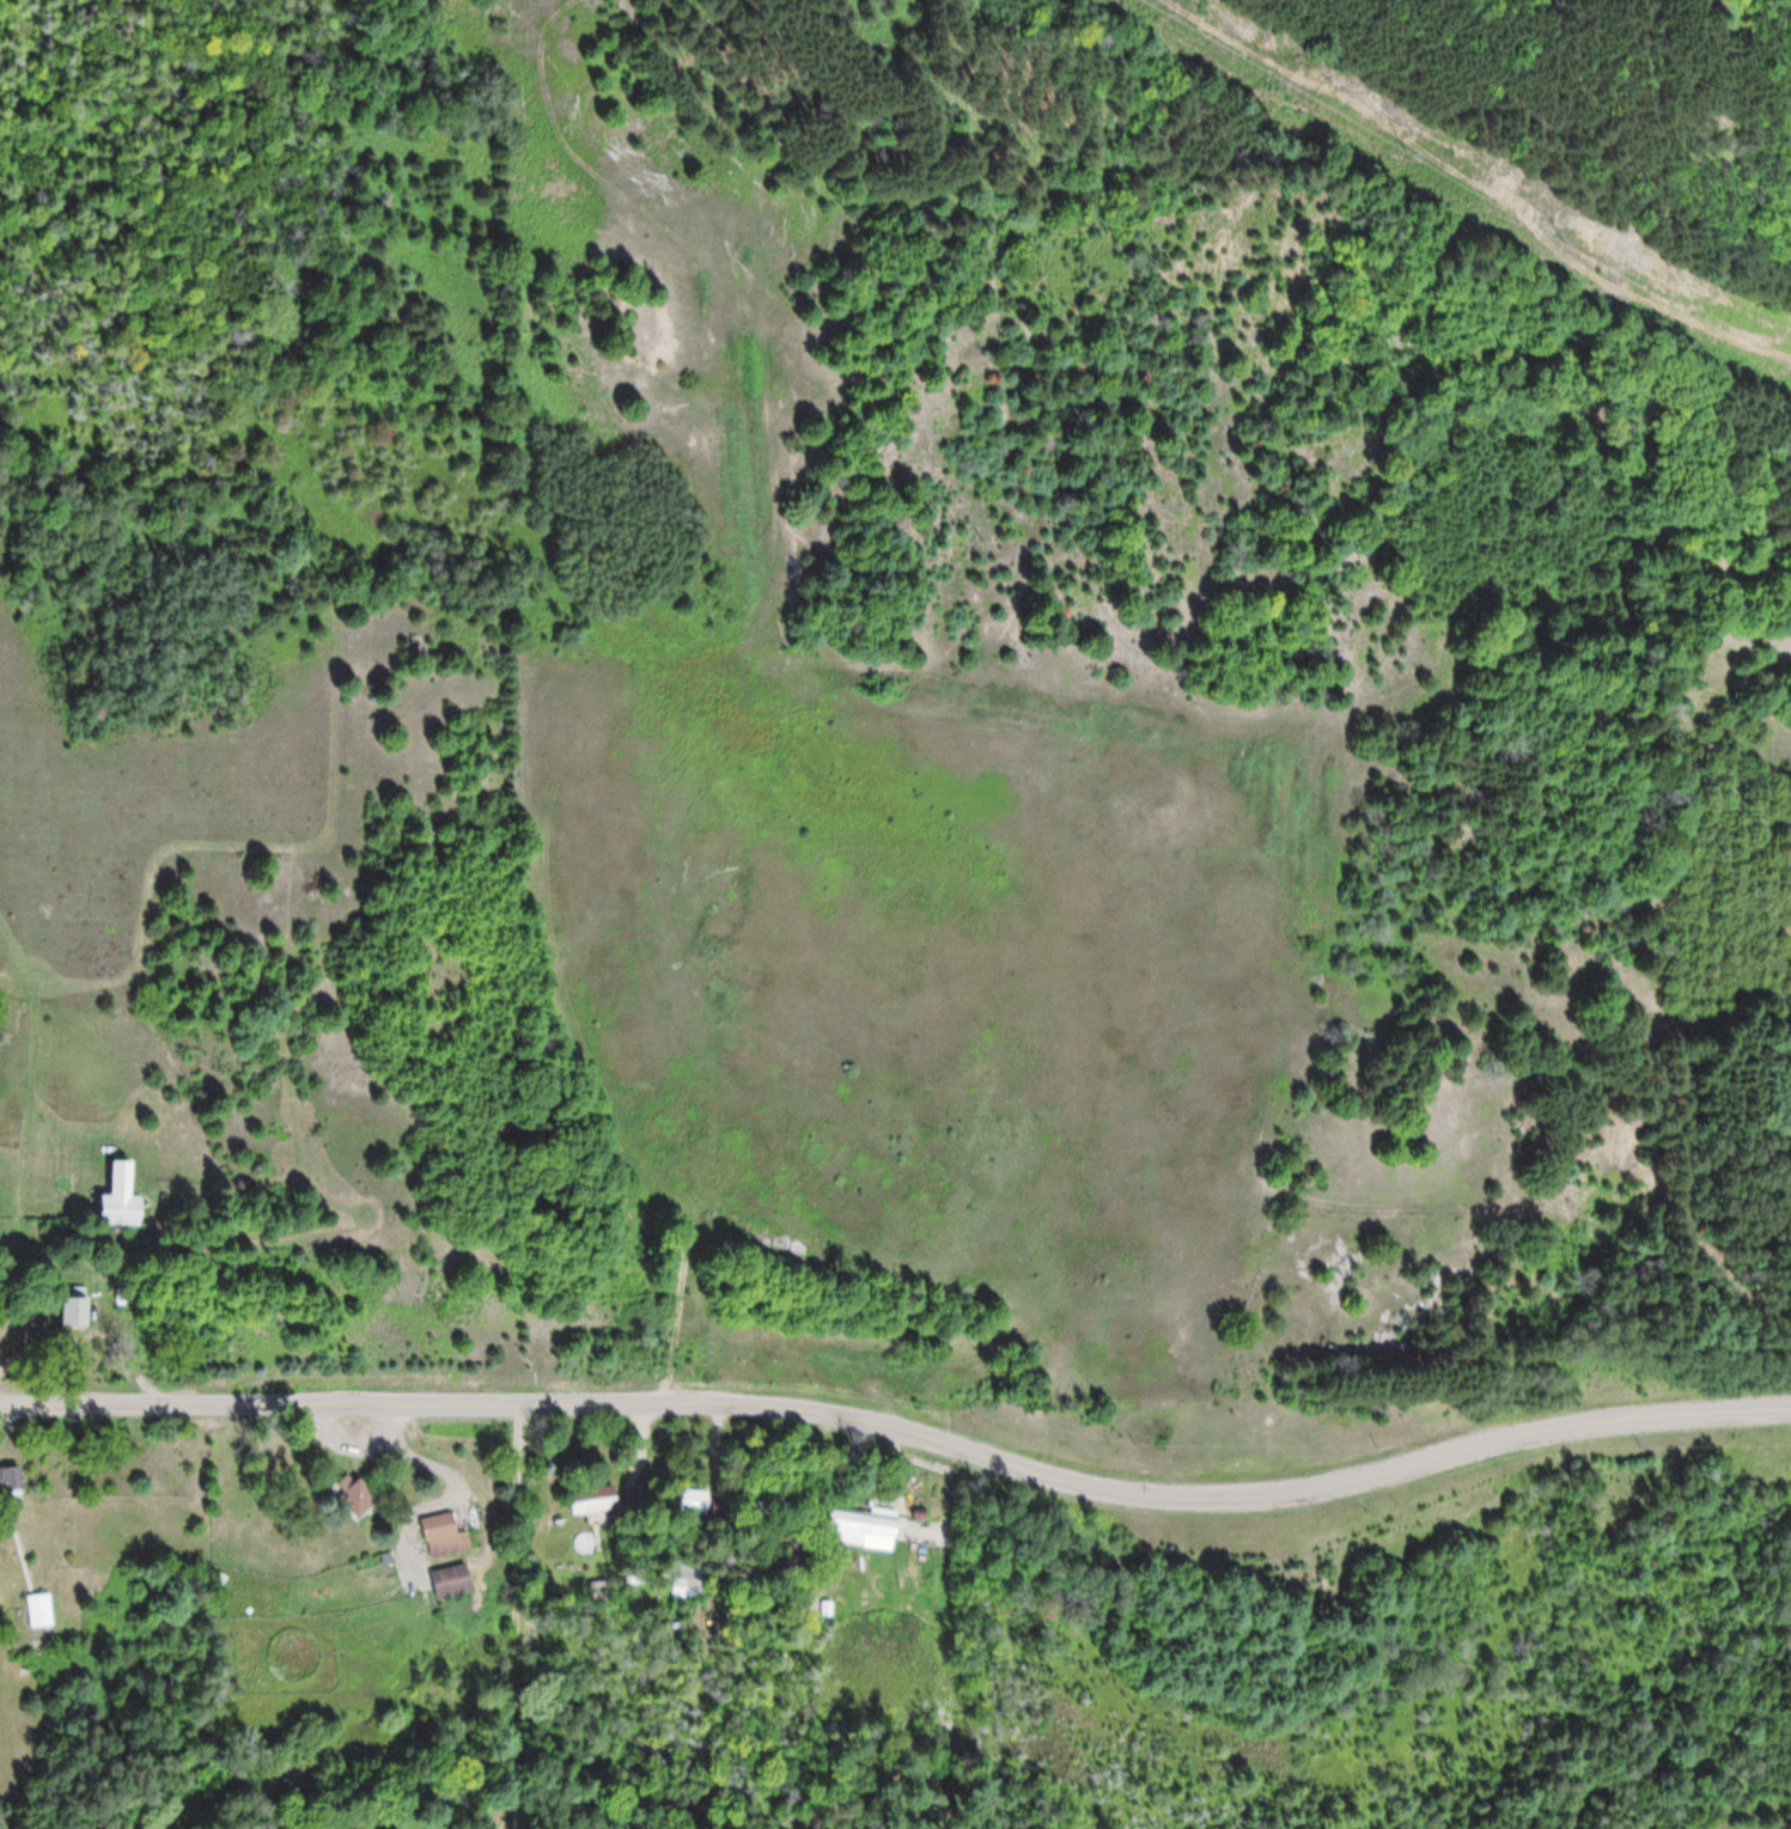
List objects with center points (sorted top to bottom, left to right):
building: (122, 1195)
building: (77, 1310)
road: (903, 1433)
building: (12, 1480)
building: (357, 1493)
building: (595, 1500)
building: (693, 1500)
building: (864, 1526)
building: (445, 1534)
building: (453, 1579)
building: (41, 1610)

